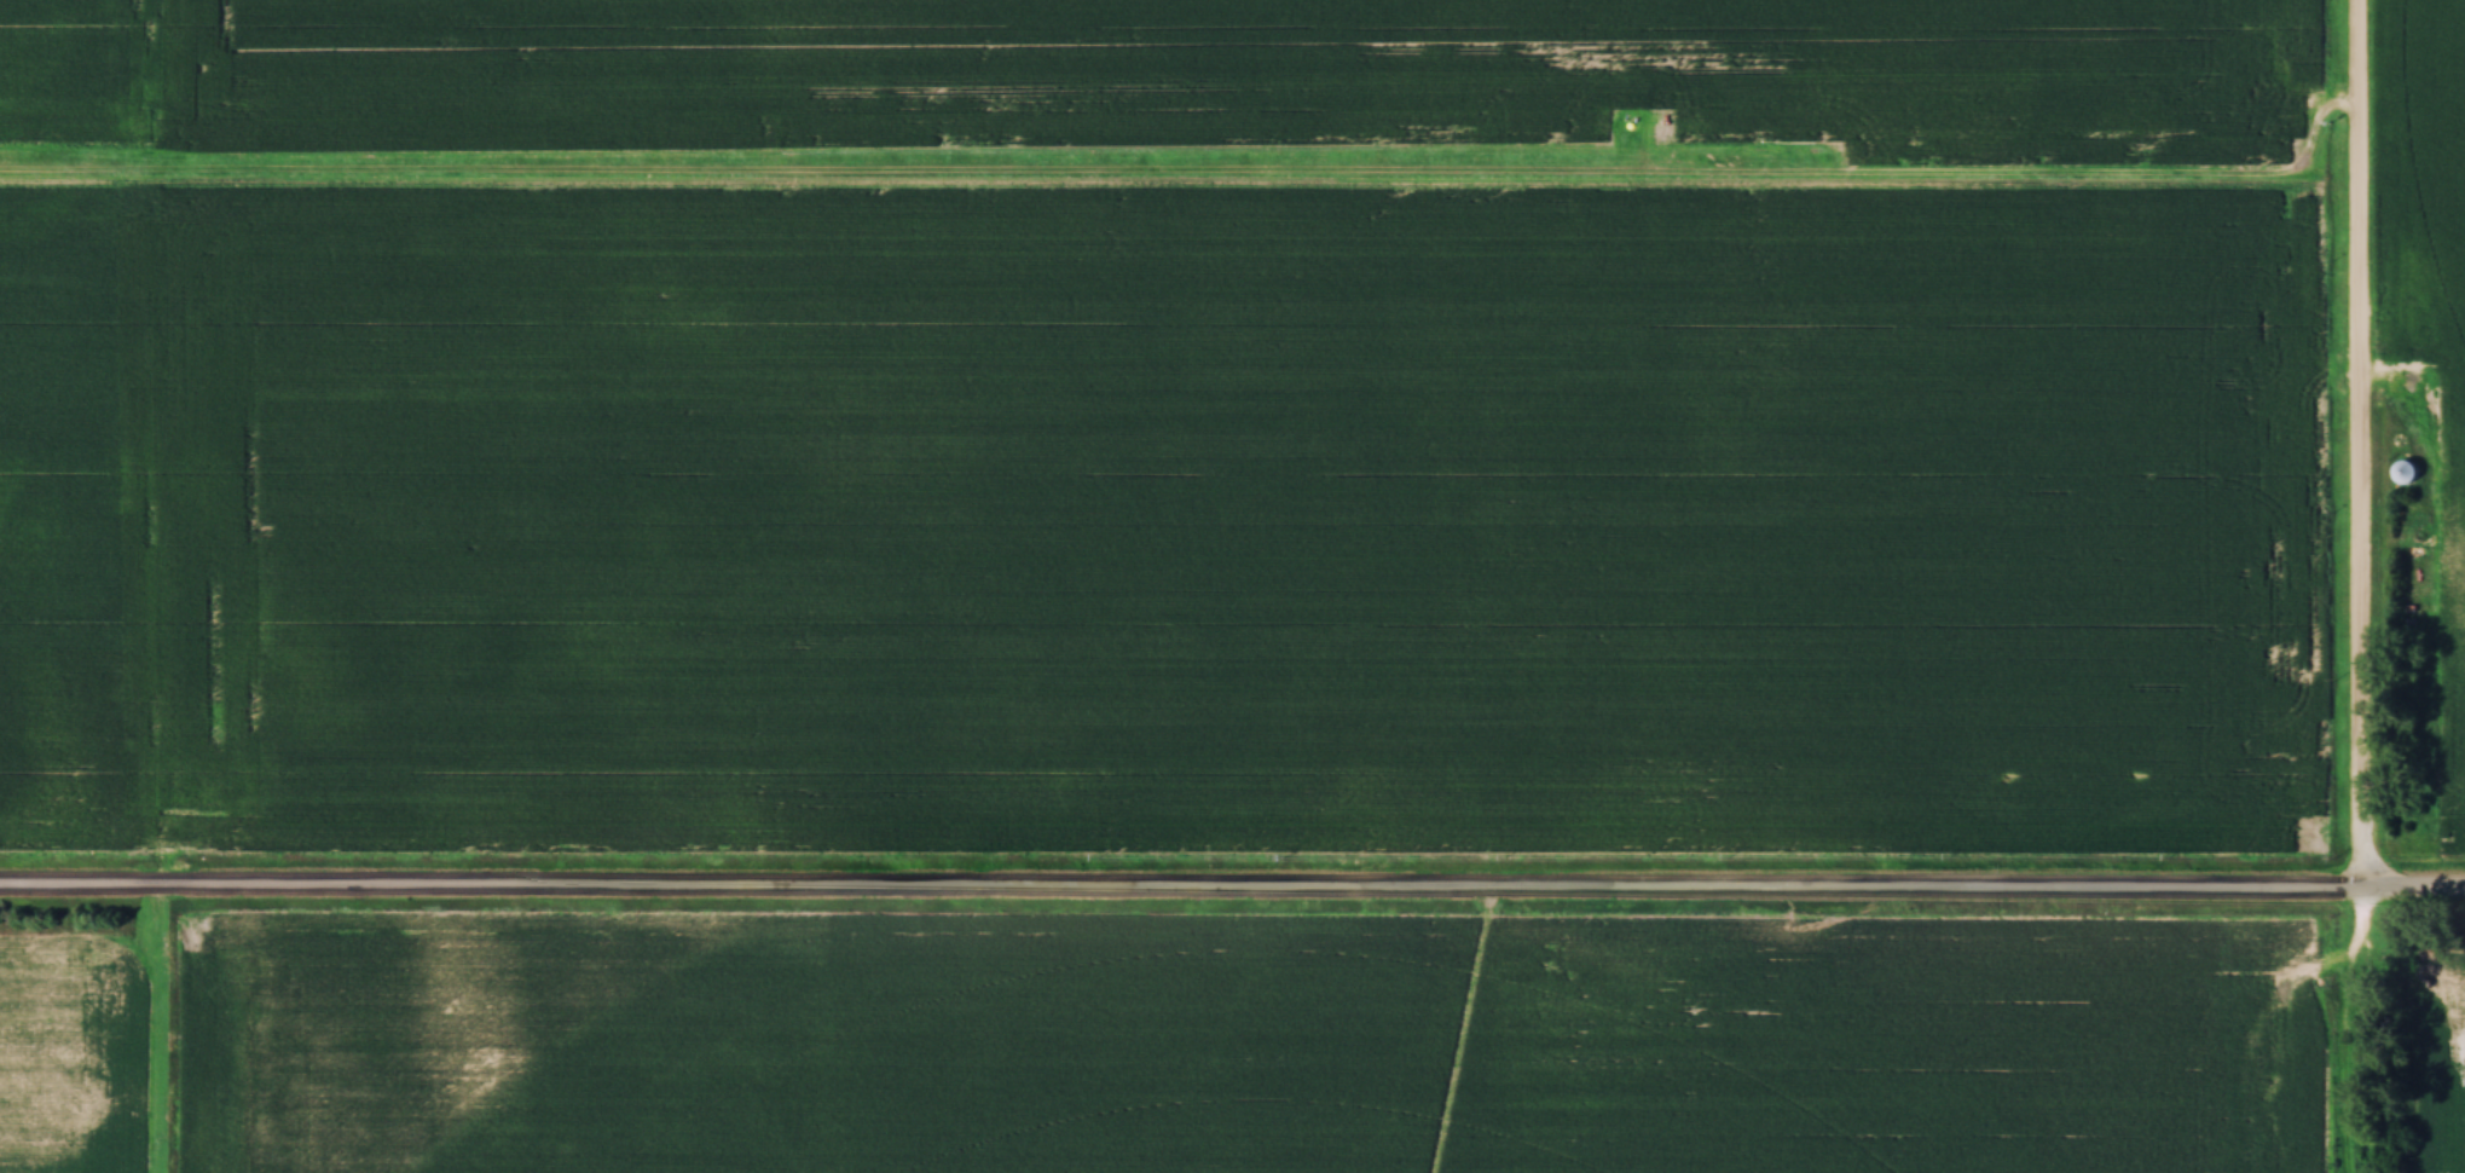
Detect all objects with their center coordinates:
building: (2406, 474)
road: (2360, 586)
road: (1232, 889)

